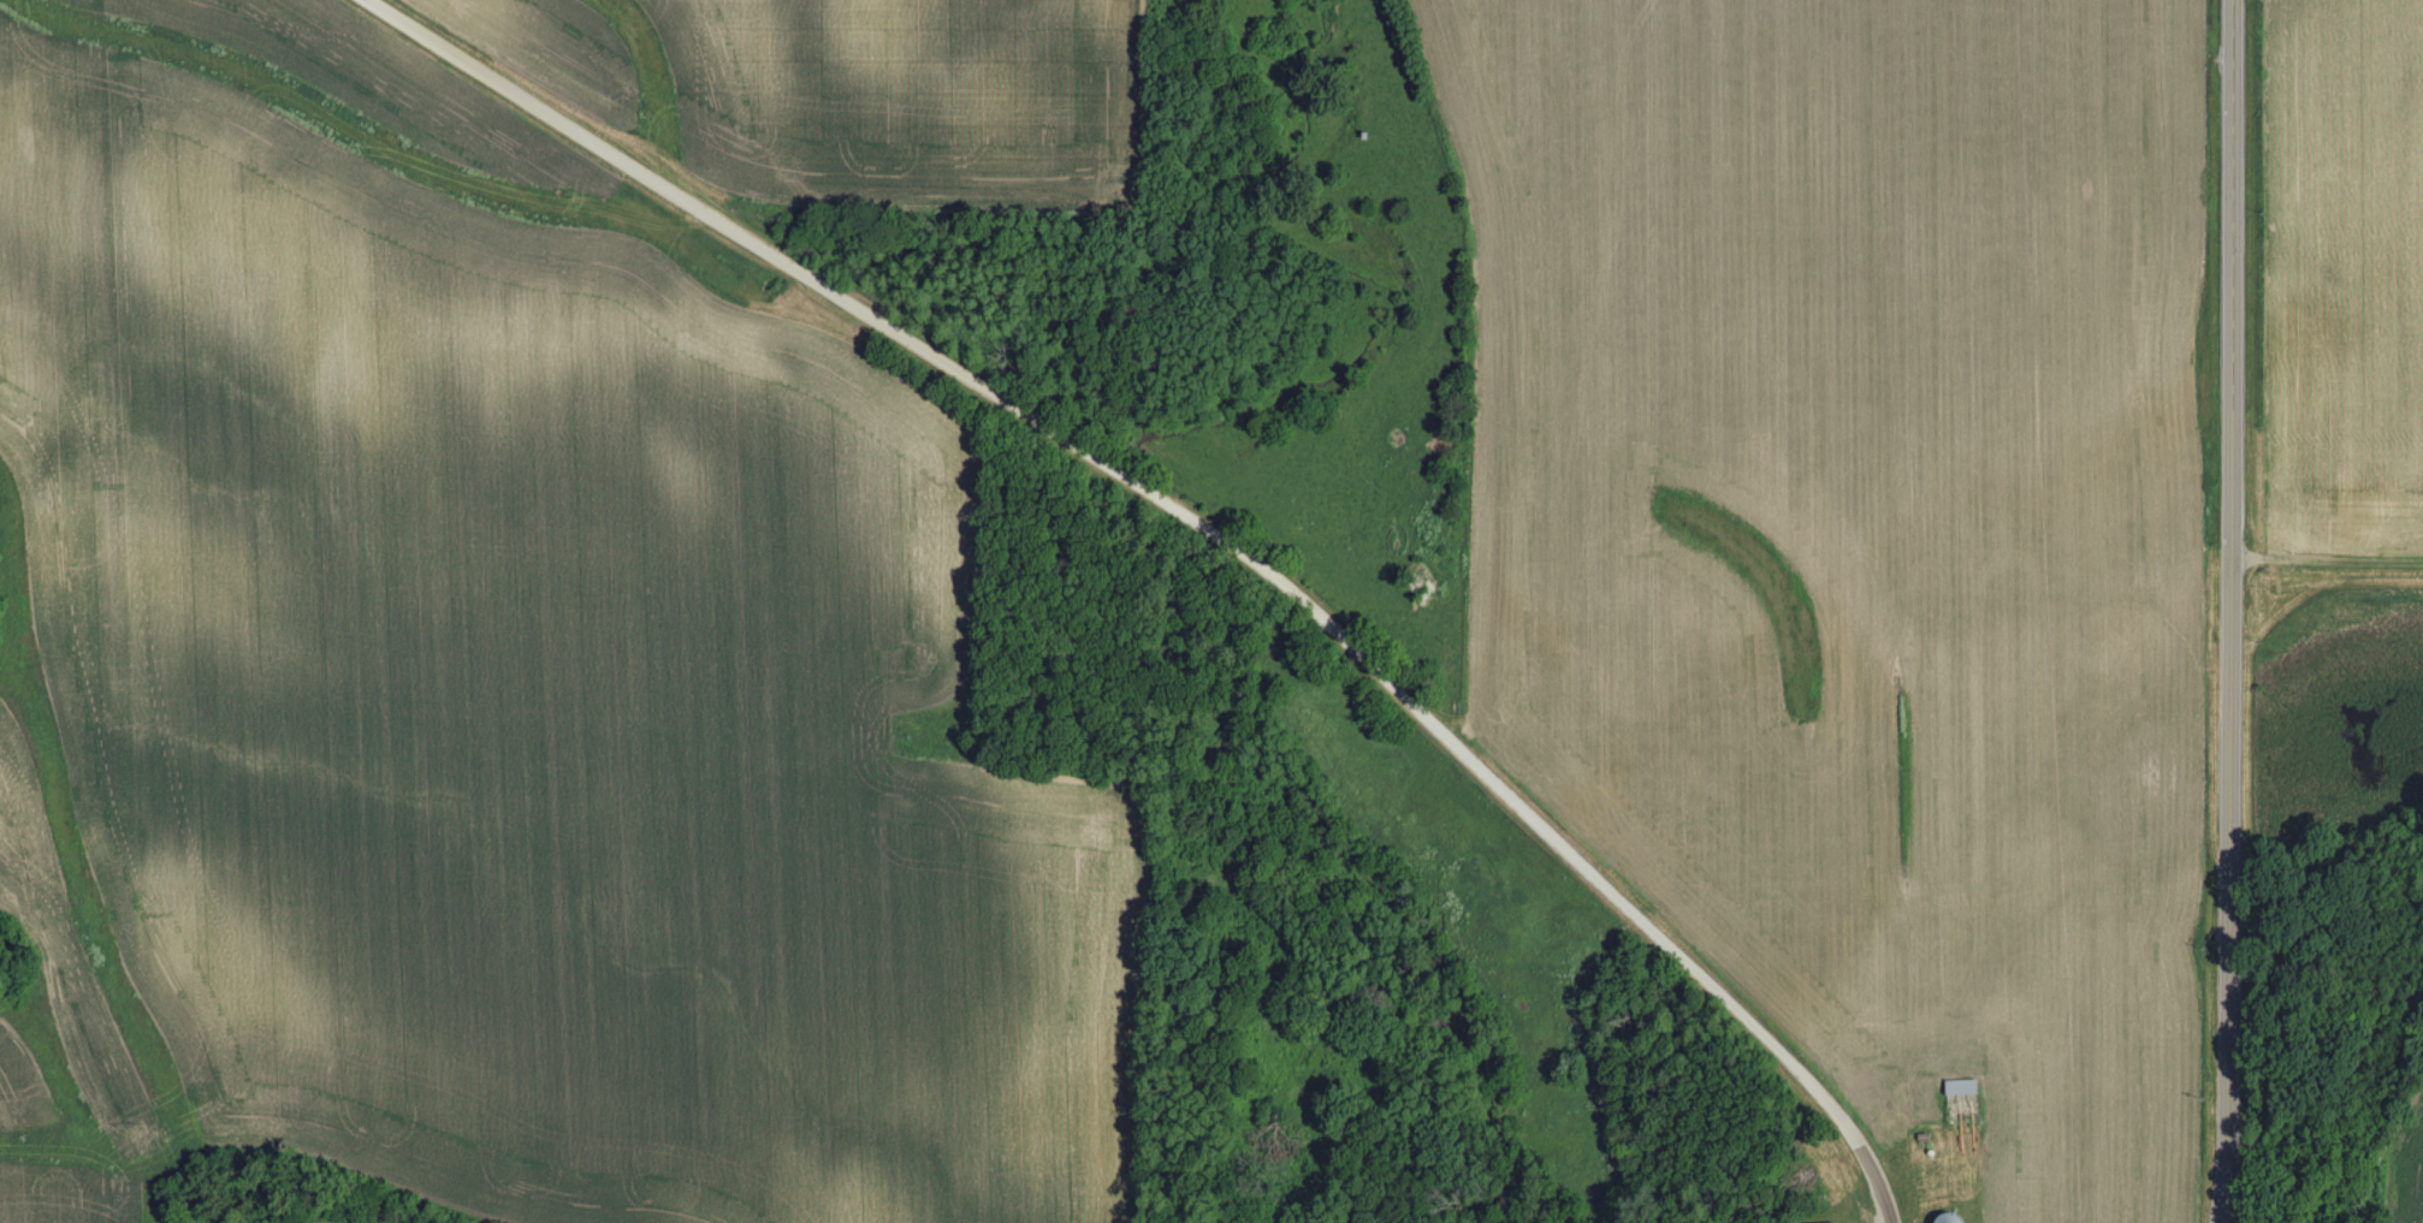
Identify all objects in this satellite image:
road: (1201, 524)
road: (2228, 611)
building: (1967, 1088)

